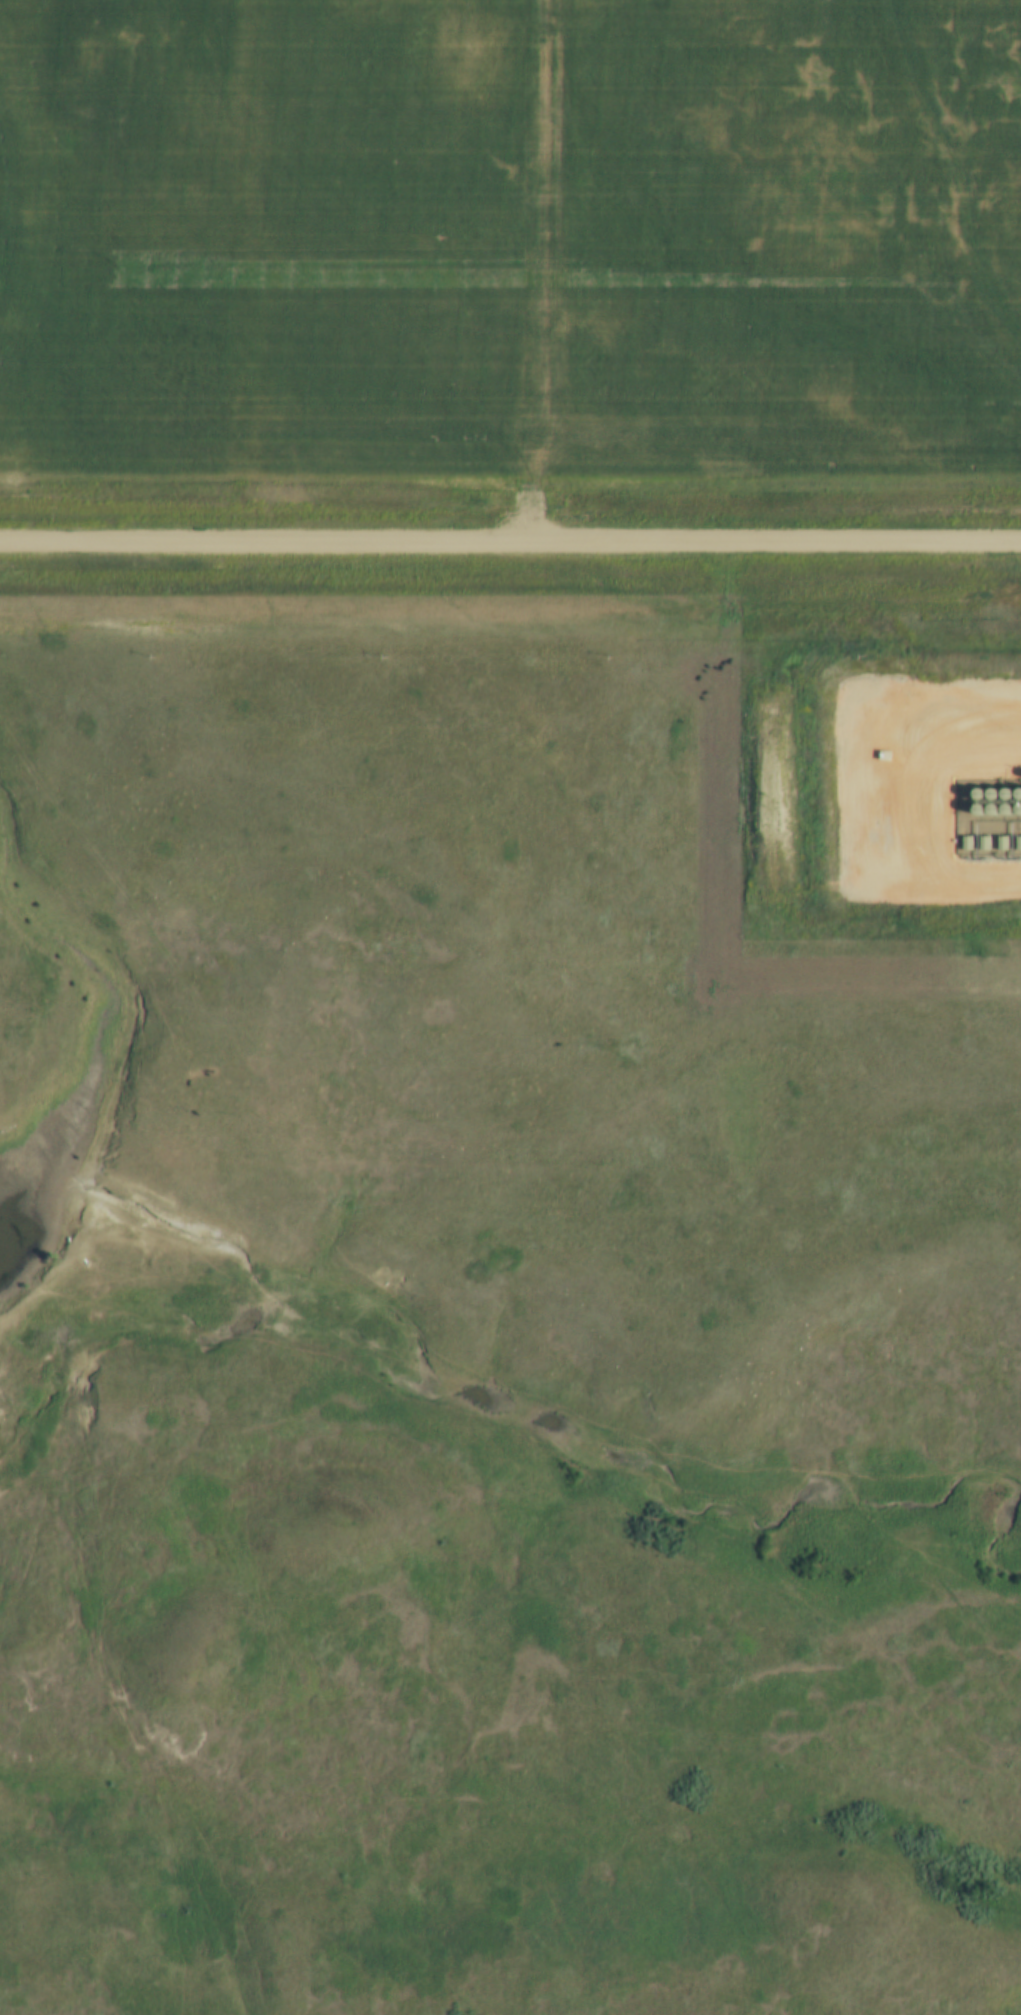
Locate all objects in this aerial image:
road: (510, 550)
dam: (93, 1158)

